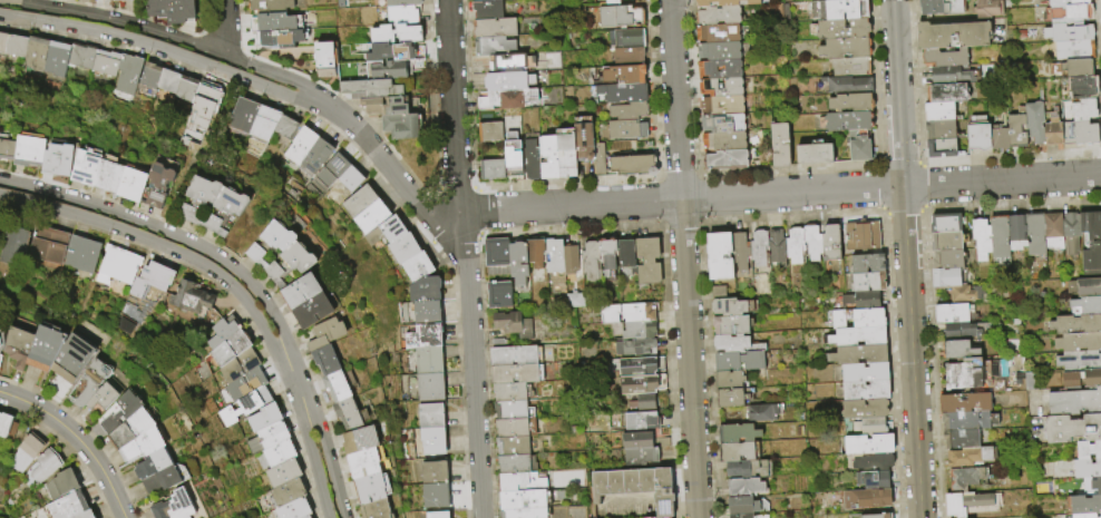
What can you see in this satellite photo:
building: (125, 0)
building: (483, 0)
building: (400, 2)
building: (611, 2)
building: (723, 2)
building: (1065, 2)
building: (269, 6)
building: (941, 7)
building: (986, 8)
building: (487, 9)
building: (172, 10)
building: (838, 10)
building: (1069, 12)
building: (401, 14)
building: (717, 16)
building: (618, 17)
road: (223, 27)
building: (495, 28)
building: (276, 29)
building: (839, 29)
building: (1068, 32)
building: (717, 33)
road: (168, 35)
building: (953, 35)
building: (409, 38)
building: (629, 39)
building: (3, 43)
building: (494, 46)
building: (17, 47)
road: (162, 48)
building: (842, 48)
building: (1073, 49)
building: (718, 50)
building: (36, 55)
building: (945, 56)
building: (80, 57)
building: (627, 57)
building: (56, 58)
building: (327, 58)
building: (510, 61)
building: (105, 62)
building: (847, 67)
building: (1076, 67)
building: (719, 69)
building: (386, 70)
building: (127, 74)
building: (148, 74)
building: (951, 75)
building: (623, 76)
building: (508, 80)
building: (168, 81)
building: (847, 86)
building: (719, 87)
building: (1081, 87)
building: (186, 88)
building: (369, 89)
building: (946, 92)
building: (621, 94)
building: (510, 99)
road: (674, 100)
building: (849, 104)
building: (720, 105)
building: (383, 106)
building: (1082, 109)
building: (939, 110)
building: (627, 111)
building: (243, 115)
building: (845, 121)
building: (264, 123)
building: (721, 123)
building: (1034, 123)
building: (400, 126)
building: (285, 128)
building: (941, 128)
building: (489, 130)
building: (625, 130)
building: (1016, 130)
building: (1084, 131)
building: (1052, 133)
building: (977, 134)
building: (998, 138)
building: (722, 140)
building: (583, 141)
building: (300, 145)
building: (778, 145)
building: (941, 147)
building: (7, 149)
building: (858, 149)
building: (29, 150)
building: (566, 152)
building: (812, 154)
building: (513, 155)
building: (315, 156)
building: (548, 156)
building: (598, 158)
building: (530, 159)
building: (724, 159)
building: (56, 163)
building: (632, 166)
building: (85, 167)
building: (491, 168)
building: (330, 172)
building: (109, 175)
building: (350, 178)
road: (1002, 182)
building: (131, 184)
building: (157, 185)
road: (791, 194)
building: (199, 199)
building: (359, 201)
building: (225, 211)
road: (475, 212)
building: (371, 216)
building: (945, 223)
building: (384, 231)
building: (1053, 231)
road: (170, 233)
building: (1016, 233)
building: (859, 234)
building: (1071, 234)
building: (1034, 236)
building: (998, 237)
building: (981, 240)
building: (946, 241)
building: (1091, 241)
building: (812, 242)
building: (831, 242)
building: (35, 244)
building: (270, 244)
building: (795, 245)
road: (162, 246)
building: (776, 246)
building: (402, 247)
building: (758, 247)
building: (740, 251)
building: (81, 253)
building: (535, 253)
building: (606, 254)
building: (554, 255)
building: (626, 255)
building: (497, 256)
building: (720, 256)
road: (467, 258)
road: (906, 258)
building: (946, 258)
building: (569, 260)
building: (590, 261)
building: (646, 261)
building: (517, 262)
building: (290, 263)
building: (867, 263)
building: (117, 266)
building: (417, 266)
building: (945, 277)
building: (150, 280)
building: (868, 282)
building: (1084, 287)
building: (425, 289)
building: (301, 291)
building: (717, 293)
building: (498, 294)
building: (967, 294)
building: (191, 297)
building: (575, 300)
building: (860, 300)
building: (1088, 305)
building: (732, 307)
building: (313, 311)
building: (426, 312)
building: (634, 313)
building: (951, 313)
building: (606, 314)
building: (857, 319)
building: (1078, 323)
building: (511, 324)
building: (730, 325)
building: (635, 331)
building: (958, 331)
building: (222, 332)
building: (327, 333)
building: (422, 335)
building: (857, 335)
building: (1, 336)
building: (1079, 342)
building: (498, 343)
building: (734, 344)
building: (18, 346)
building: (45, 348)
building: (230, 349)
building: (633, 349)
building: (961, 351)
building: (858, 353)
building: (514, 355)
building: (0, 358)
building: (72, 358)
road: (689, 359)
building: (325, 360)
building: (428, 360)
building: (1078, 360)
building: (739, 361)
building: (238, 365)
building: (636, 366)
building: (864, 373)
building: (515, 374)
building: (973, 375)
building: (1092, 377)
building: (729, 380)
building: (1070, 380)
building: (91, 381)
road: (294, 381)
building: (246, 383)
building: (639, 384)
building: (335, 387)
building: (429, 387)
building: (865, 391)
building: (510, 392)
building: (104, 395)
building: (730, 398)
building: (1074, 402)
building: (642, 403)
building: (965, 403)
building: (245, 405)
building: (864, 409)
building: (513, 410)
building: (118, 412)
building: (761, 412)
building: (347, 413)
building: (430, 414)
building: (264, 417)
building: (970, 420)
building: (637, 421)
building: (7, 424)
building: (869, 426)
building: (131, 428)
building: (515, 428)
building: (1073, 428)
building: (738, 433)
building: (267, 437)
road: (77, 439)
building: (961, 439)
building: (359, 440)
building: (431, 440)
building: (633, 441)
building: (144, 443)
building: (868, 443)
building: (513, 446)
building: (1089, 449)
building: (738, 452)
building: (26, 453)
building: (279, 453)
building: (636, 457)
building: (970, 457)
road: (329, 459)
building: (153, 462)
road: (313, 462)
building: (367, 462)
building: (873, 462)
building: (45, 465)
building: (517, 465)
building: (1087, 468)
building: (747, 469)
building: (433, 472)
building: (283, 473)
building: (965, 477)
building: (162, 480)
building: (646, 480)
building: (874, 480)
building: (631, 481)
building: (523, 482)
building: (615, 482)
building: (61, 483)
building: (1095, 485)
building: (598, 486)
building: (371, 487)
building: (744, 487)
building: (662, 492)
building: (288, 493)
building: (435, 496)
building: (866, 498)
building: (524, 500)
building: (965, 502)
building: (67, 505)
building: (1083, 505)
building: (173, 506)
parking lot: (625, 506)
building: (742, 506)
building: (294, 509)
building: (376, 509)
building: (565, 511)
building: (525, 512)
building: (84, 515)
building: (437, 515)
building: (747, 516)
building: (876, 516)
building: (1085, 516)
building: (306, 517)
building: (659, 517)

